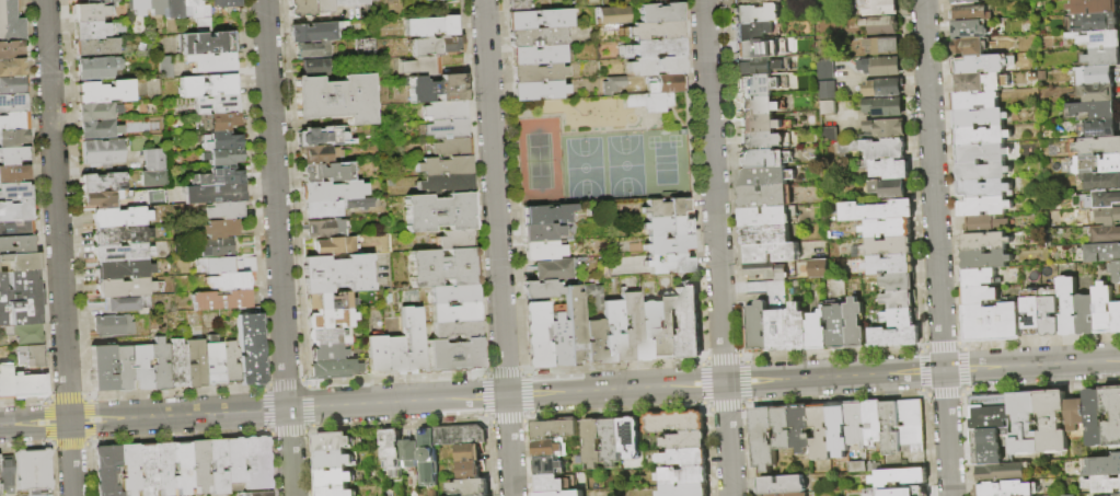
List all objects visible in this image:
building: (76, 0)
building: (100, 1)
building: (355, 1)
building: (966, 1)
building: (337, 2)
building: (755, 2)
building: (224, 3)
building: (320, 5)
building: (518, 5)
building: (137, 7)
building: (154, 7)
building: (1093, 7)
building: (878, 8)
building: (173, 9)
building: (298, 9)
building: (91, 12)
building: (660, 12)
building: (970, 12)
building: (754, 13)
building: (197, 14)
building: (612, 14)
building: (539, 19)
building: (10, 22)
building: (1095, 22)
building: (429, 26)
building: (879, 26)
building: (93, 30)
building: (655, 30)
building: (968, 30)
building: (751, 31)
building: (310, 32)
building: (538, 36)
building: (1097, 38)
building: (208, 43)
building: (362, 46)
building: (435, 46)
building: (884, 46)
building: (96, 47)
building: (655, 47)
building: (971, 47)
building: (11, 49)
building: (751, 49)
building: (310, 50)
building: (536, 54)
building: (1100, 57)
building: (211, 62)
building: (983, 65)
building: (656, 66)
building: (884, 66)
building: (425, 67)
building: (757, 67)
building: (11, 68)
building: (95, 68)
building: (312, 68)
building: (825, 70)
building: (536, 71)
building: (1094, 76)
building: (980, 82)
building: (613, 83)
building: (666, 84)
building: (12, 85)
building: (207, 85)
building: (757, 86)
building: (437, 88)
building: (884, 89)
building: (538, 90)
building: (825, 91)
building: (104, 92)
building: (1096, 92)
building: (333, 99)
building: (649, 101)
building: (974, 101)
building: (12, 103)
building: (216, 105)
building: (758, 107)
building: (884, 107)
building: (827, 108)
building: (443, 109)
building: (96, 112)
building: (1089, 112)
building: (979, 118)
building: (13, 120)
building: (218, 122)
building: (758, 124)
building: (444, 128)
building: (1098, 128)
building: (886, 129)
building: (97, 130)
road: (593, 130)
building: (320, 135)
building: (829, 135)
building: (980, 136)
building: (13, 138)
building: (220, 141)
building: (763, 141)
building: (1098, 146)
building: (451, 147)
park: (601, 148)
building: (874, 149)
building: (101, 153)
building: (315, 153)
building: (981, 153)
building: (12, 155)
building: (224, 158)
building: (762, 159)
park: (541, 162)
building: (1097, 164)
building: (442, 165)
building: (150, 168)
park: (604, 168)
building: (888, 169)
building: (982, 171)
building: (324, 172)
building: (13, 173)
building: (221, 176)
building: (763, 176)
building: (1101, 182)
building: (101, 183)
building: (443, 183)
building: (886, 188)
building: (983, 188)
building: (330, 191)
building: (14, 192)
building: (212, 194)
building: (764, 197)
building: (101, 199)
building: (1106, 199)
building: (357, 203)
building: (983, 207)
building: (321, 208)
building: (666, 209)
building: (15, 210)
building: (223, 210)
building: (437, 211)
building: (870, 211)
building: (546, 214)
building: (119, 216)
building: (766, 217)
building: (1107, 217)
building: (984, 224)
building: (16, 228)
building: (324, 228)
building: (667, 228)
building: (887, 228)
building: (220, 230)
building: (541, 232)
building: (117, 233)
building: (566, 234)
building: (763, 234)
building: (1105, 235)
building: (453, 239)
building: (984, 242)
building: (668, 244)
building: (16, 245)
building: (333, 245)
building: (224, 246)
road: (58, 247)
road: (278, 247)
road: (497, 247)
road: (716, 247)
building: (884, 247)
road: (935, 247)
building: (542, 251)
building: (120, 252)
building: (771, 253)
building: (1100, 253)
building: (985, 261)
building: (21, 262)
building: (668, 264)
building: (226, 265)
building: (889, 265)
building: (441, 267)
building: (119, 268)
building: (376, 268)
building: (553, 268)
building: (818, 269)
building: (764, 272)
building: (1116, 272)
building: (335, 273)
building: (978, 277)
building: (227, 281)
building: (898, 282)
building: (122, 289)
building: (540, 289)
building: (452, 293)
building: (979, 296)
building: (593, 297)
building: (20, 298)
building: (899, 299)
building: (220, 300)
building: (326, 300)
building: (123, 304)
building: (1067, 307)
building: (1102, 309)
building: (1050, 310)
building: (453, 311)
building: (1032, 313)
building: (1086, 315)
building: (328, 318)
building: (900, 318)
building: (1116, 318)
building: (688, 321)
building: (991, 323)
building: (574, 324)
building: (854, 324)
building: (835, 325)
building: (111, 326)
building: (631, 327)
building: (673, 327)
building: (755, 327)
building: (795, 327)
building: (454, 328)
building: (776, 331)
building: (816, 331)
building: (648, 332)
building: (23, 333)
building: (612, 333)
building: (536, 335)
building: (327, 336)
building: (894, 337)
building: (411, 339)
building: (557, 341)
building: (593, 341)
building: (249, 347)
building: (324, 353)
building: (374, 353)
building: (393, 354)
building: (31, 355)
building: (453, 356)
building: (211, 362)
building: (229, 364)
building: (158, 365)
building: (175, 365)
building: (194, 365)
building: (140, 367)
building: (102, 368)
building: (123, 368)
building: (332, 369)
building: (4, 381)
building: (26, 385)
road: (559, 392)
building: (990, 412)
building: (1074, 414)
building: (1116, 417)
building: (1093, 418)
building: (1051, 420)
building: (873, 422)
building: (674, 423)
building: (1023, 423)
building: (856, 424)
building: (783, 427)
building: (912, 427)
building: (891, 428)
building: (556, 429)
building: (800, 429)
building: (838, 429)
building: (820, 432)
building: (460, 436)
building: (628, 437)
building: (762, 439)
building: (685, 441)
building: (332, 442)
building: (611, 442)
building: (592, 443)
building: (990, 445)
building: (392, 448)
building: (547, 449)
building: (409, 453)
building: (470, 453)
building: (427, 457)
building: (685, 458)
building: (234, 460)
building: (333, 461)
building: (257, 463)
building: (199, 465)
building: (183, 466)
building: (218, 466)
building: (549, 466)
building: (1102, 466)
building: (864, 468)
building: (129, 469)
building: (148, 469)
building: (164, 469)
building: (33, 470)
building: (107, 470)
building: (471, 470)
building: (1000, 472)
building: (7, 473)
building: (683, 477)
building: (334, 478)
building: (899, 478)
building: (550, 484)
building: (1101, 484)
building: (782, 486)
building: (470, 487)
building: (1005, 489)
building: (685, 491)
building: (335, 492)
building: (892, 492)
building: (261, 494)
building: (549, 494)
building: (1116, 494)
building: (47, 495)
building: (793, 495)
building: (1070, 495)

